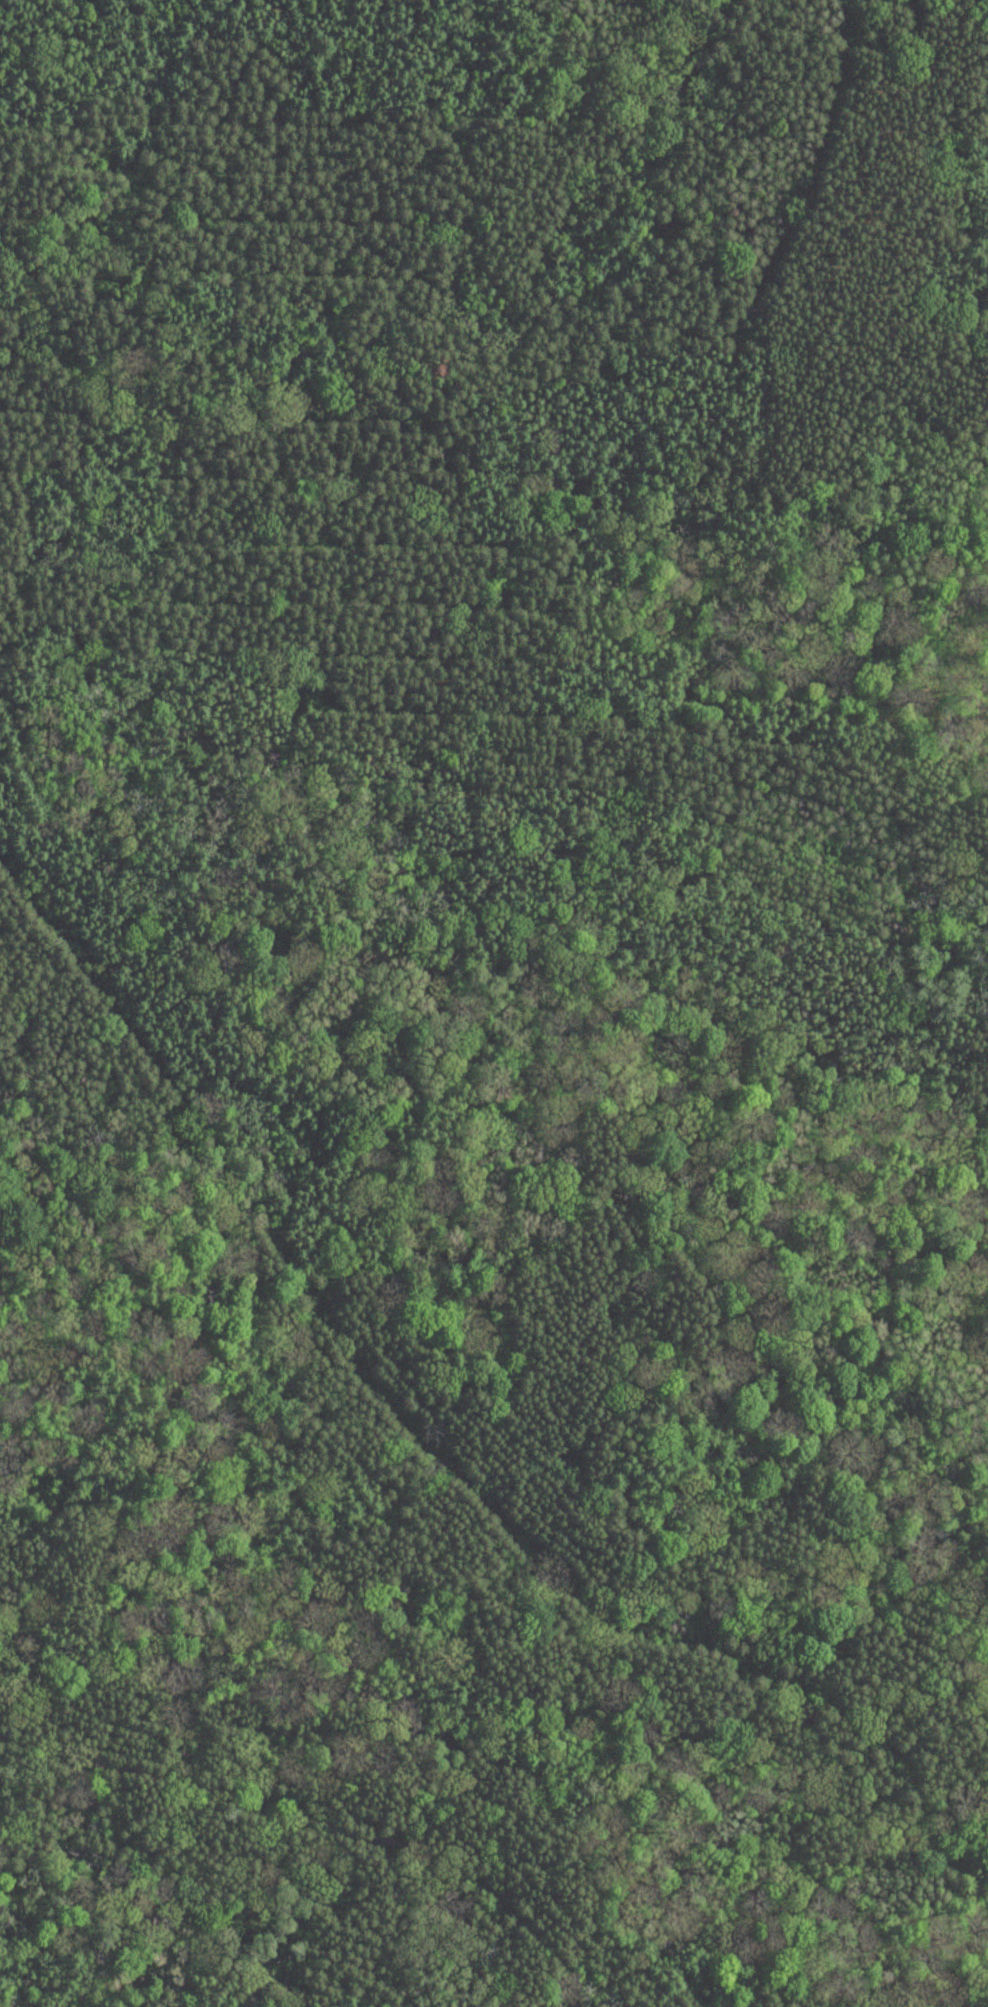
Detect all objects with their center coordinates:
road: (890, 734)
road: (15, 886)
road: (50, 933)
park: (494, 1003)
road: (538, 1411)
road: (332, 1823)

